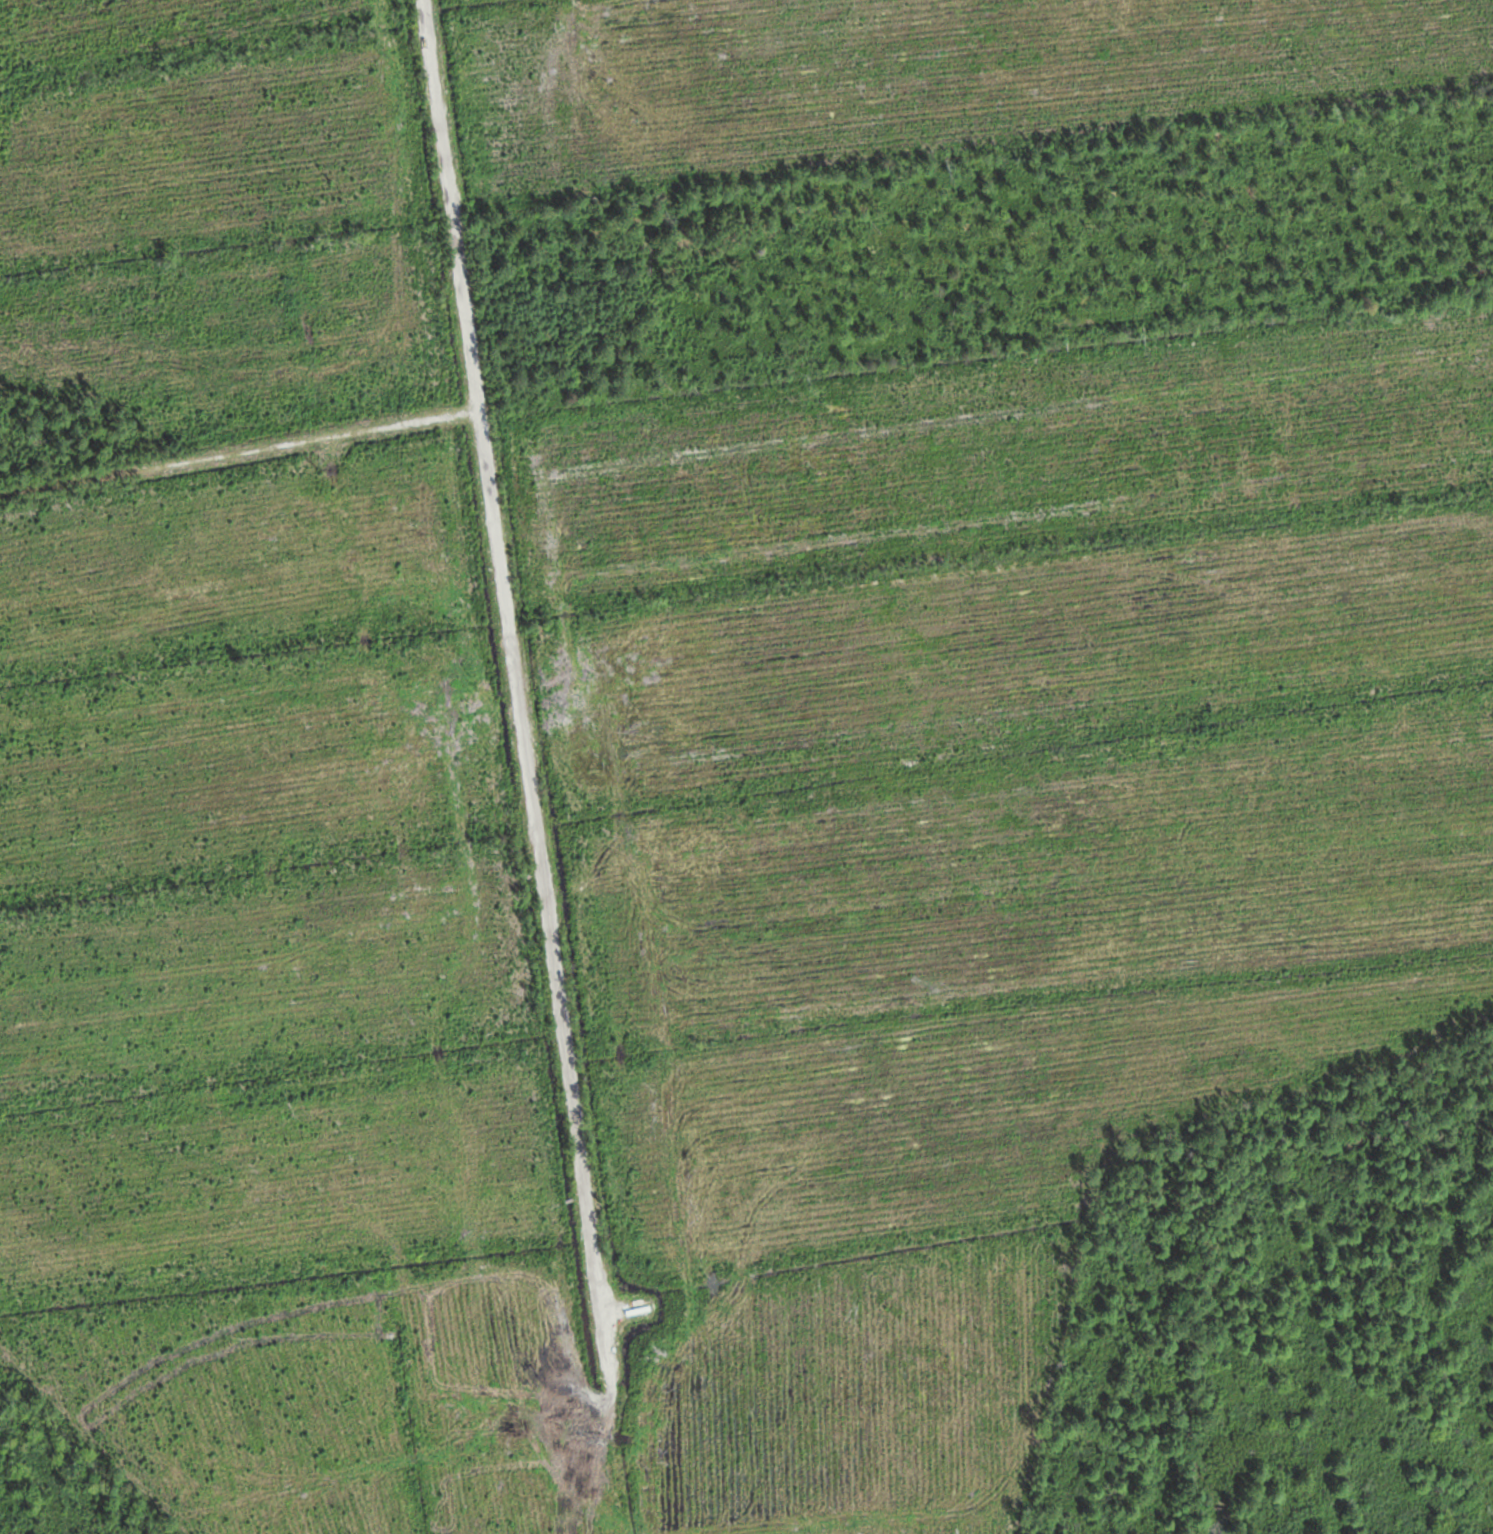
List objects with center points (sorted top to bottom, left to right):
road: (524, 574)

